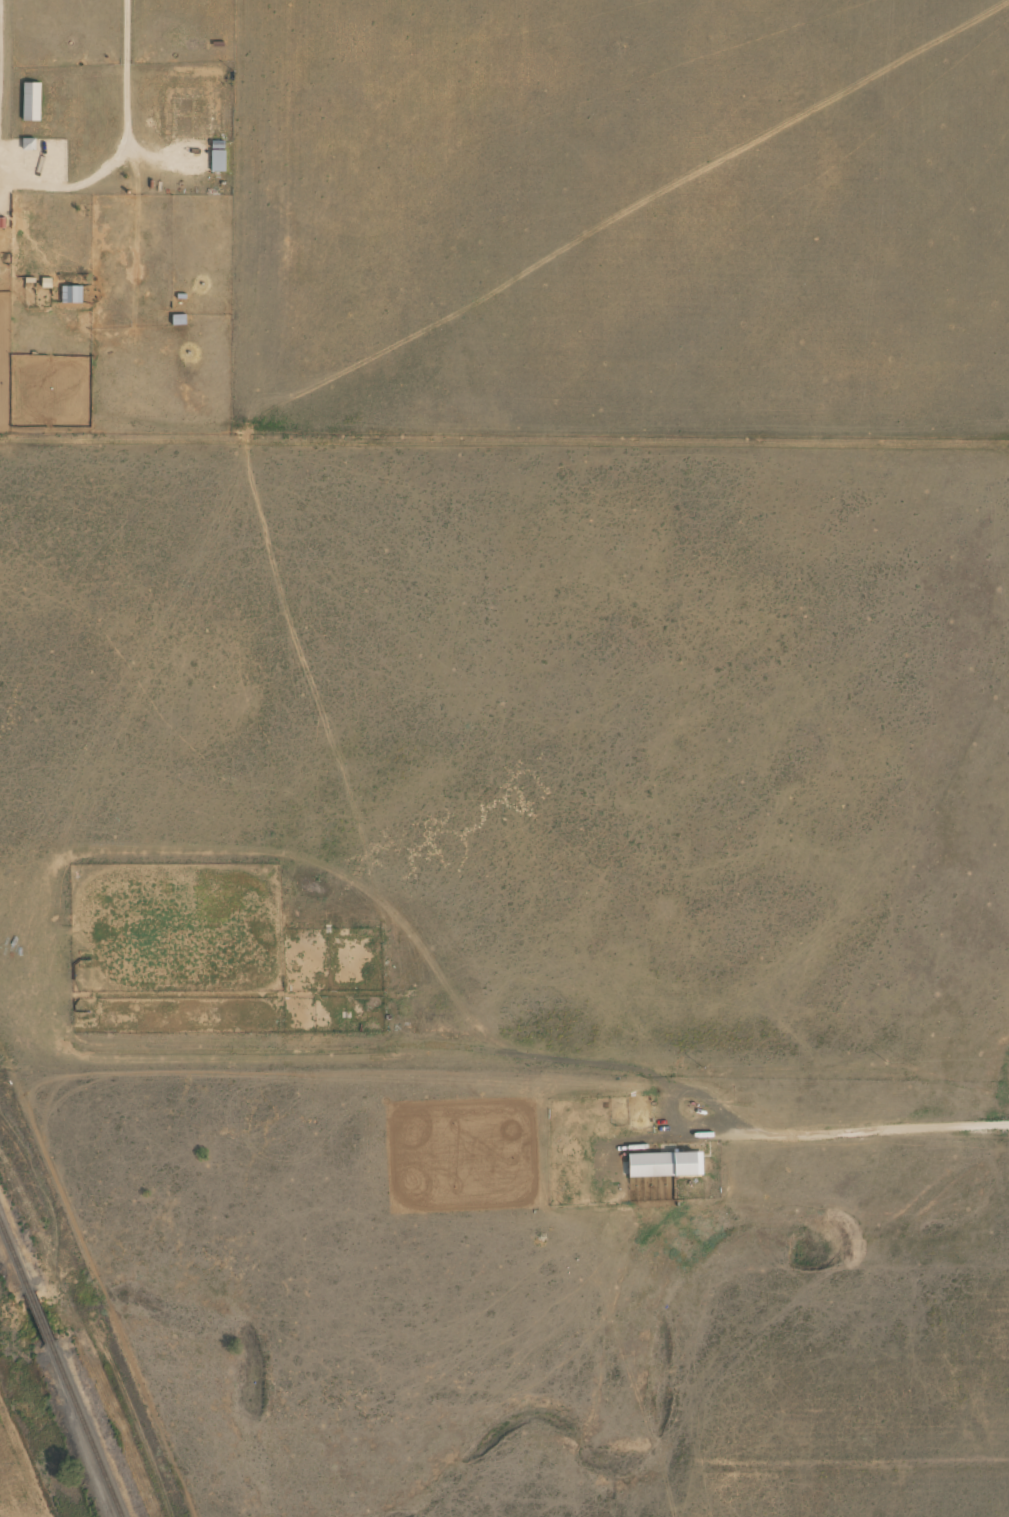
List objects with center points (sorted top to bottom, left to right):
building: (31, 101)
building: (169, 117)
building: (218, 156)
building: (1, 223)
building: (70, 294)
building: (177, 320)
building: (664, 1164)
railway: (61, 1368)

